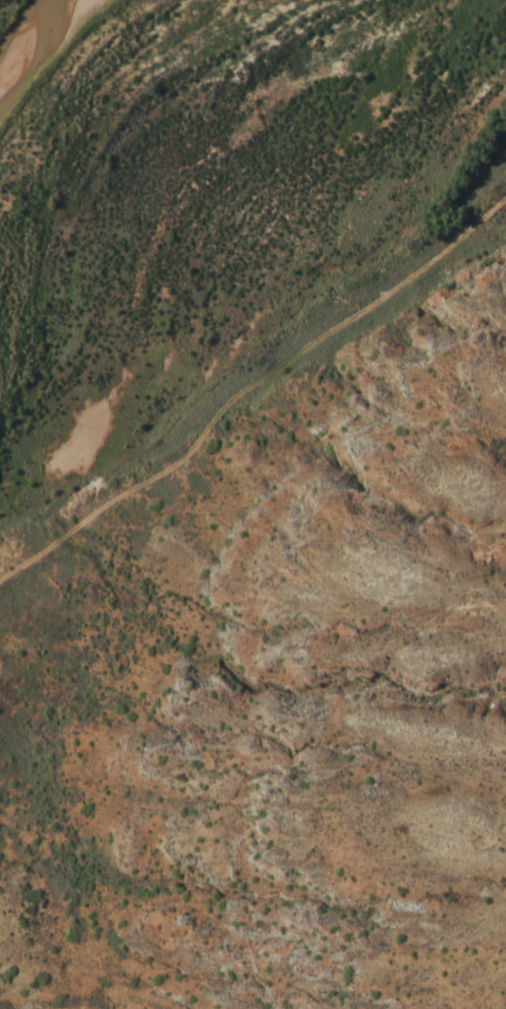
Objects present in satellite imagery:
river: (40, 109)

